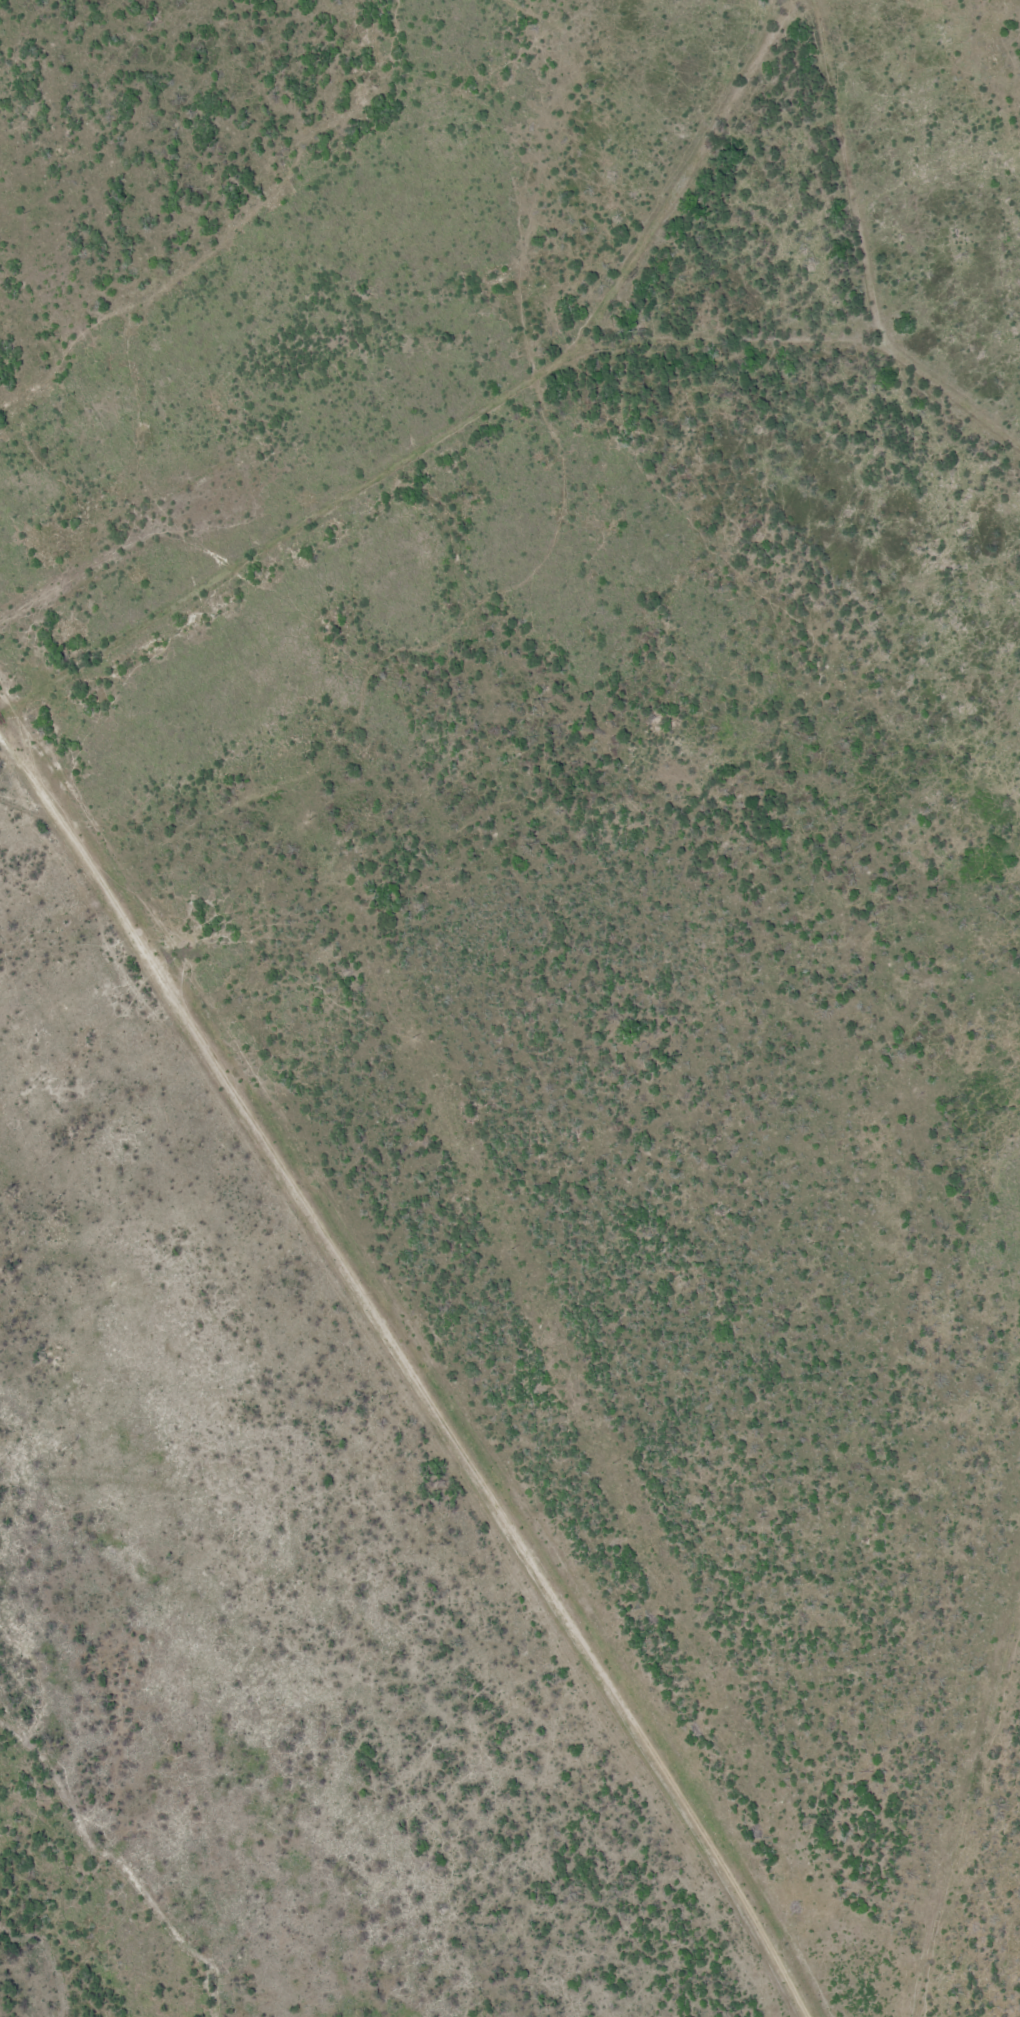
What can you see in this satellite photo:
road: (397, 1360)

